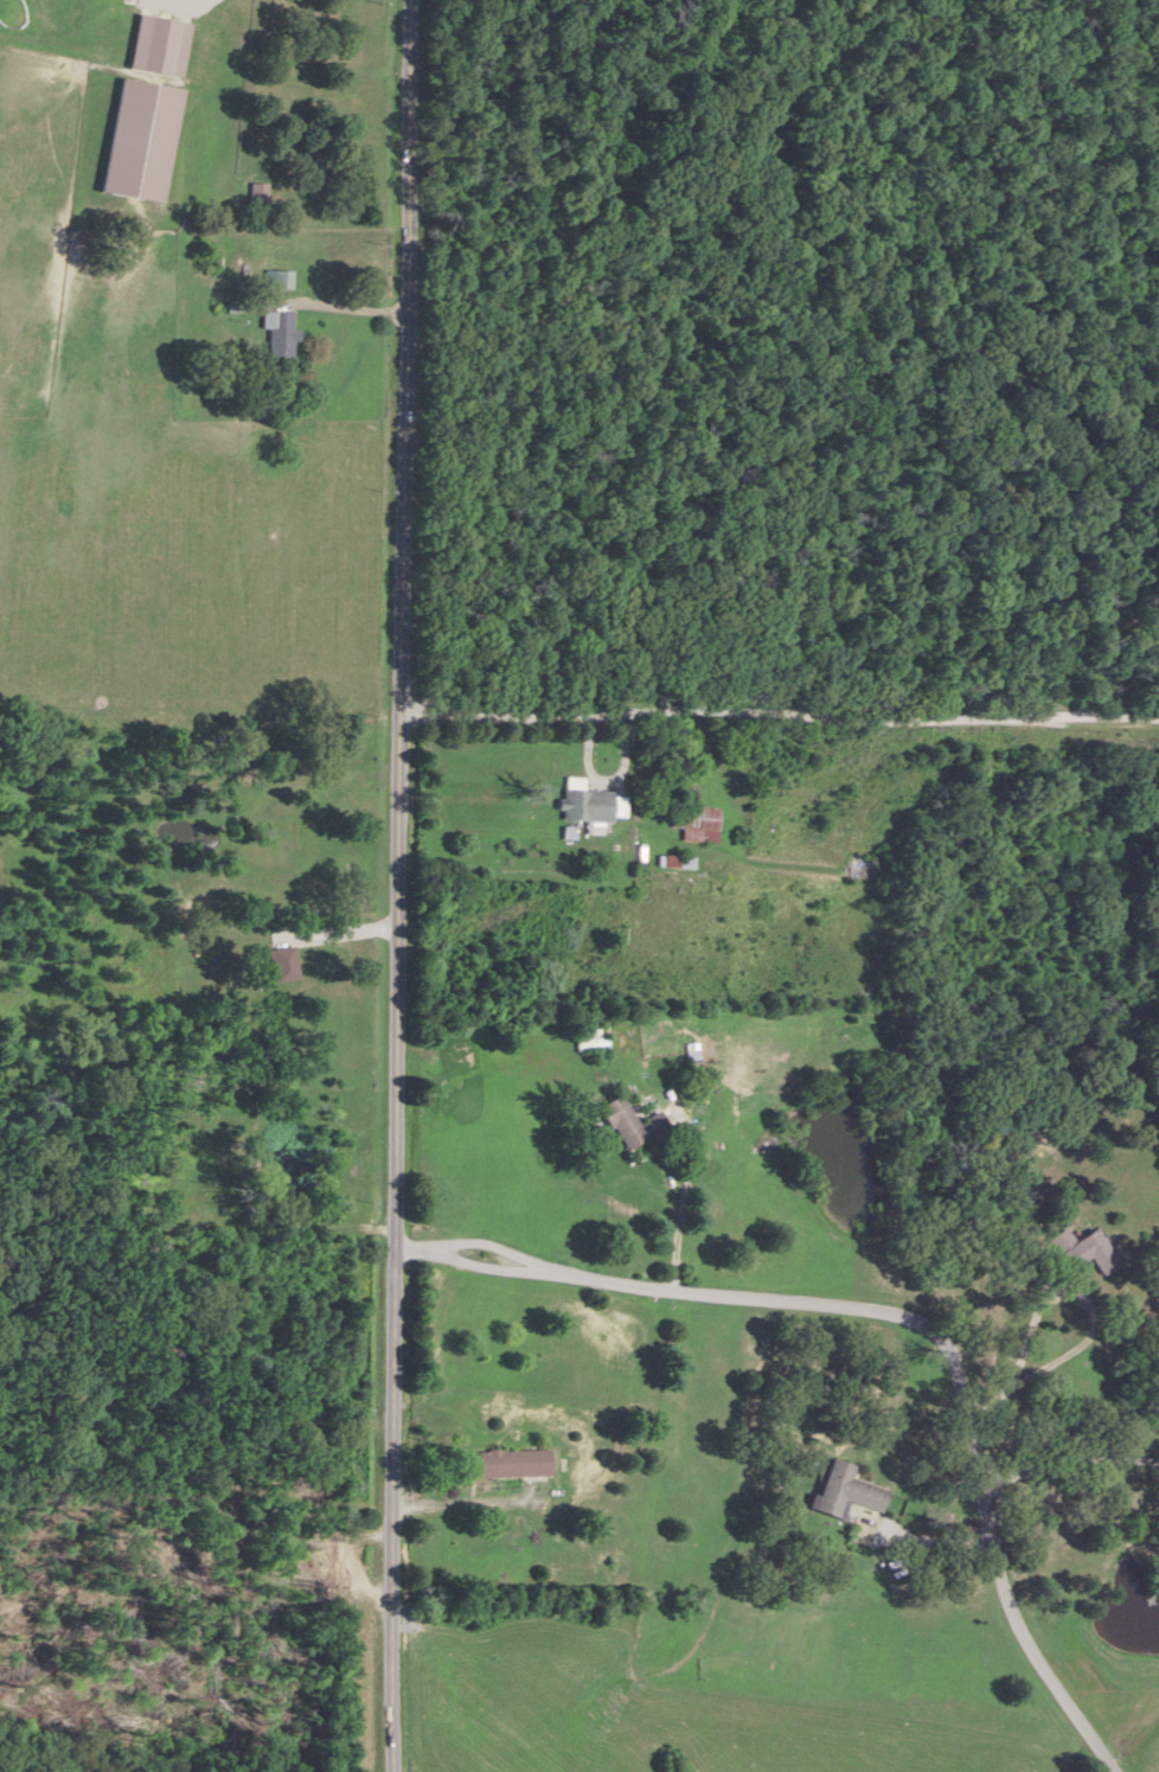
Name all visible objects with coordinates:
building: (148, 45)
building: (130, 140)
building: (246, 193)
building: (264, 277)
road: (331, 303)
building: (265, 332)
road: (780, 714)
building: (583, 806)
building: (687, 819)
road: (398, 885)
building: (282, 965)
building: (582, 1041)
road: (213, 1122)
building: (620, 1122)
road: (680, 1200)
building: (1082, 1250)
road: (902, 1323)
building: (513, 1464)
road: (1065, 1464)
building: (845, 1491)
road: (468, 1506)

